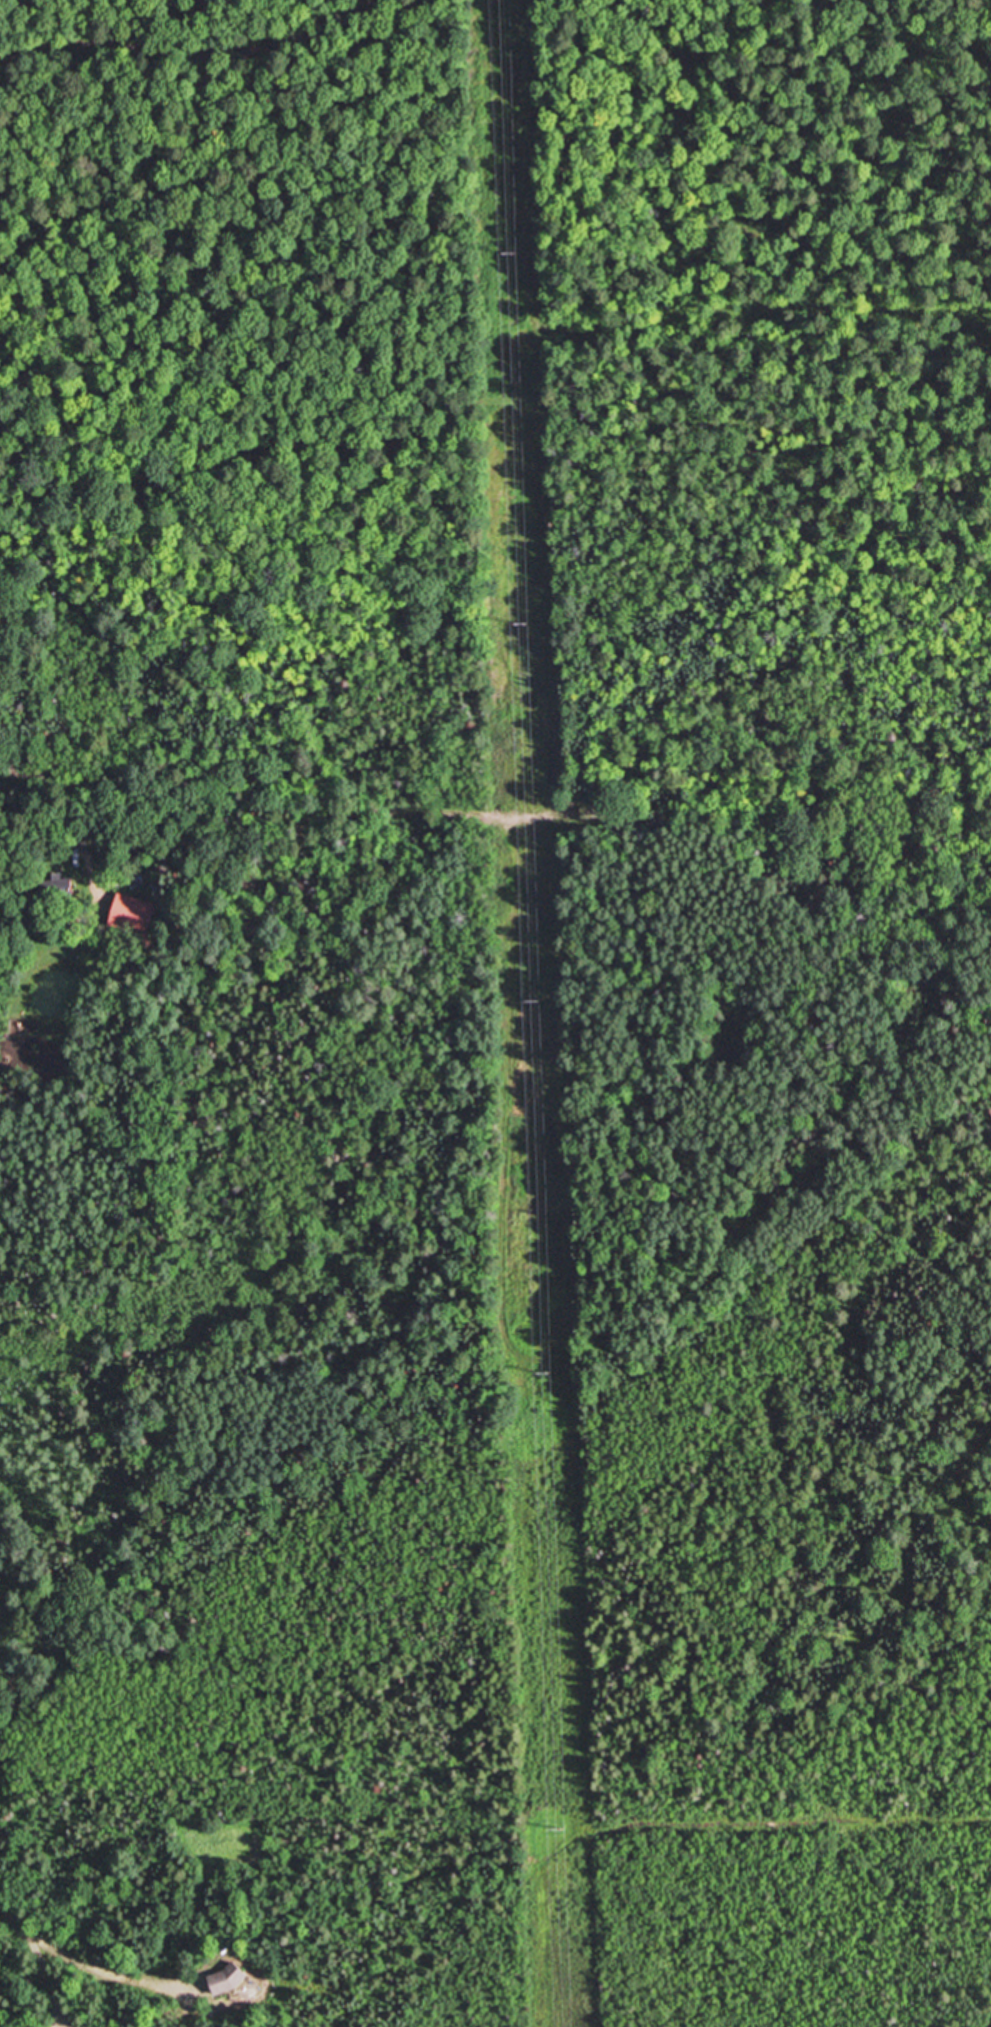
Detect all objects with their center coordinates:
road: (189, 41)
road: (324, 801)
building: (134, 915)
building: (230, 1980)

